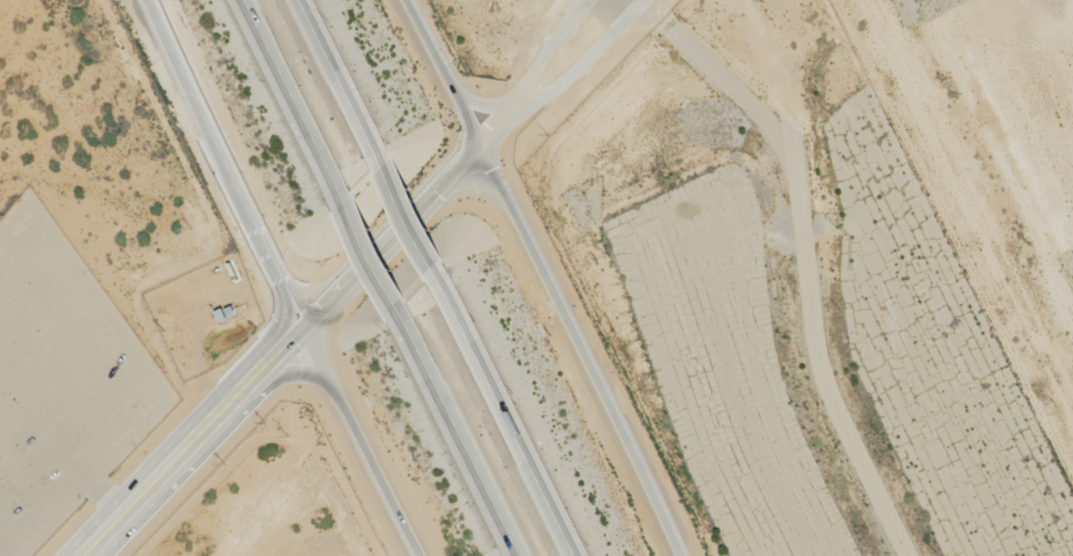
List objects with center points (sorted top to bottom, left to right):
road: (344, 79)
road: (295, 100)
road: (416, 228)
road: (804, 256)
road: (376, 263)
road: (366, 270)
road: (542, 277)
road: (278, 280)
road: (332, 283)
road: (513, 427)
road: (463, 440)

